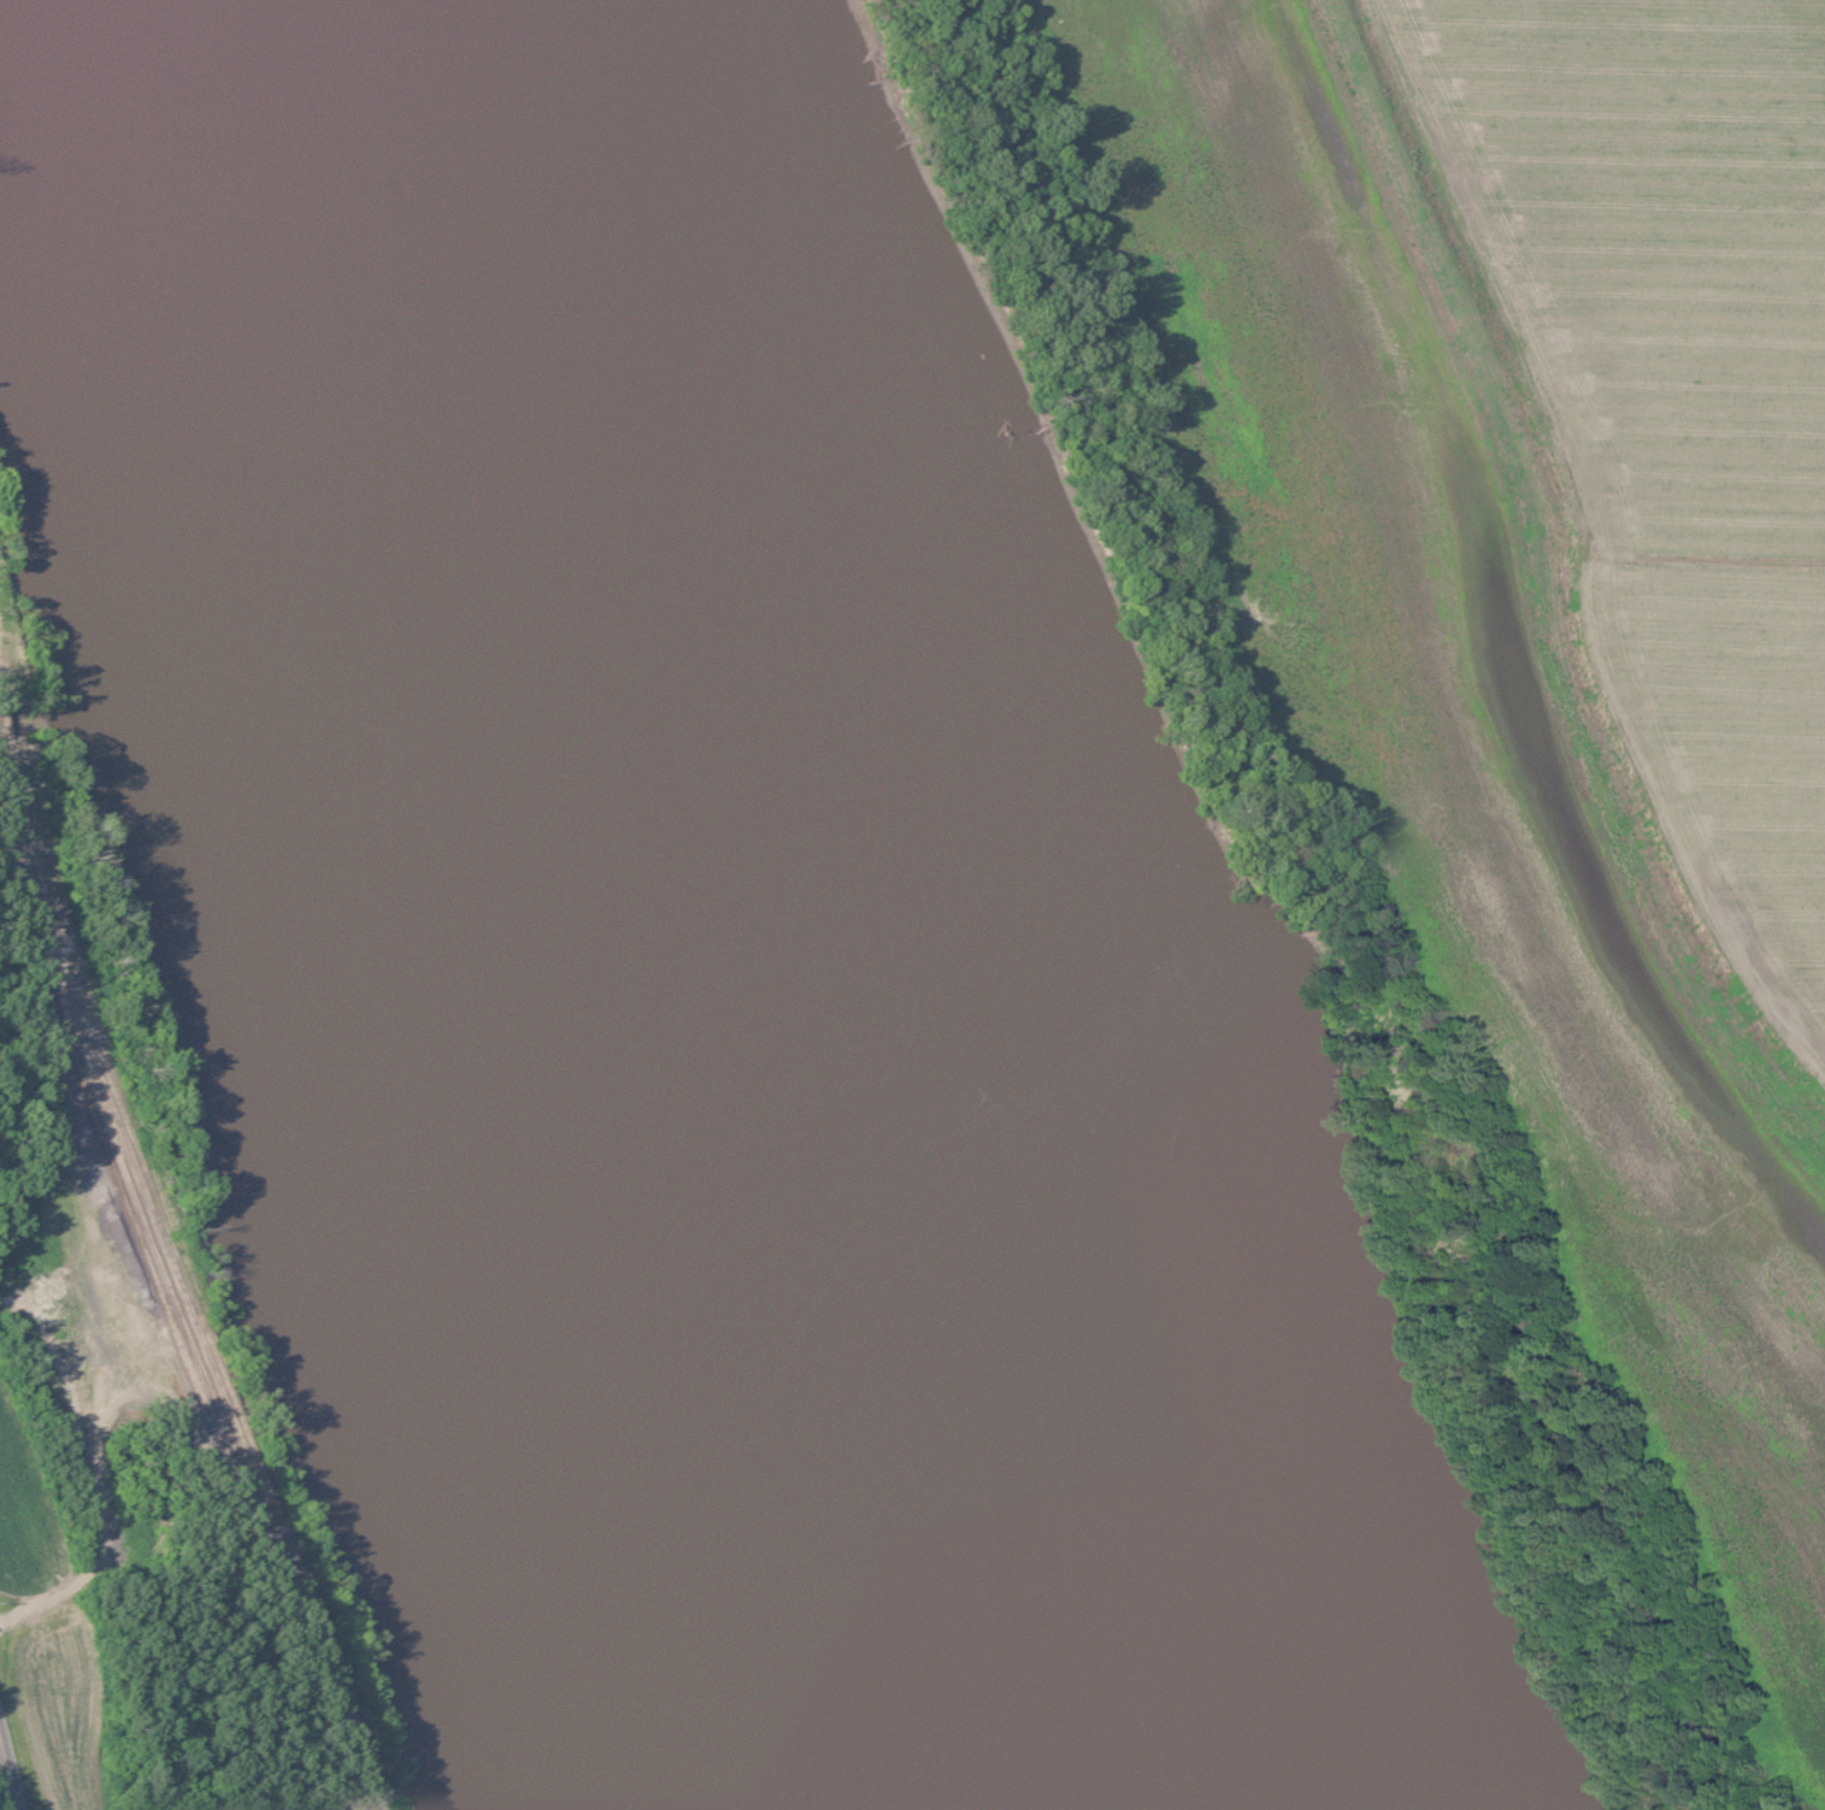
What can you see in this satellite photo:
river: (737, 904)
railway: (51, 947)
railway: (155, 1302)
railway: (235, 1479)
road: (87, 1563)
road: (6, 1780)

